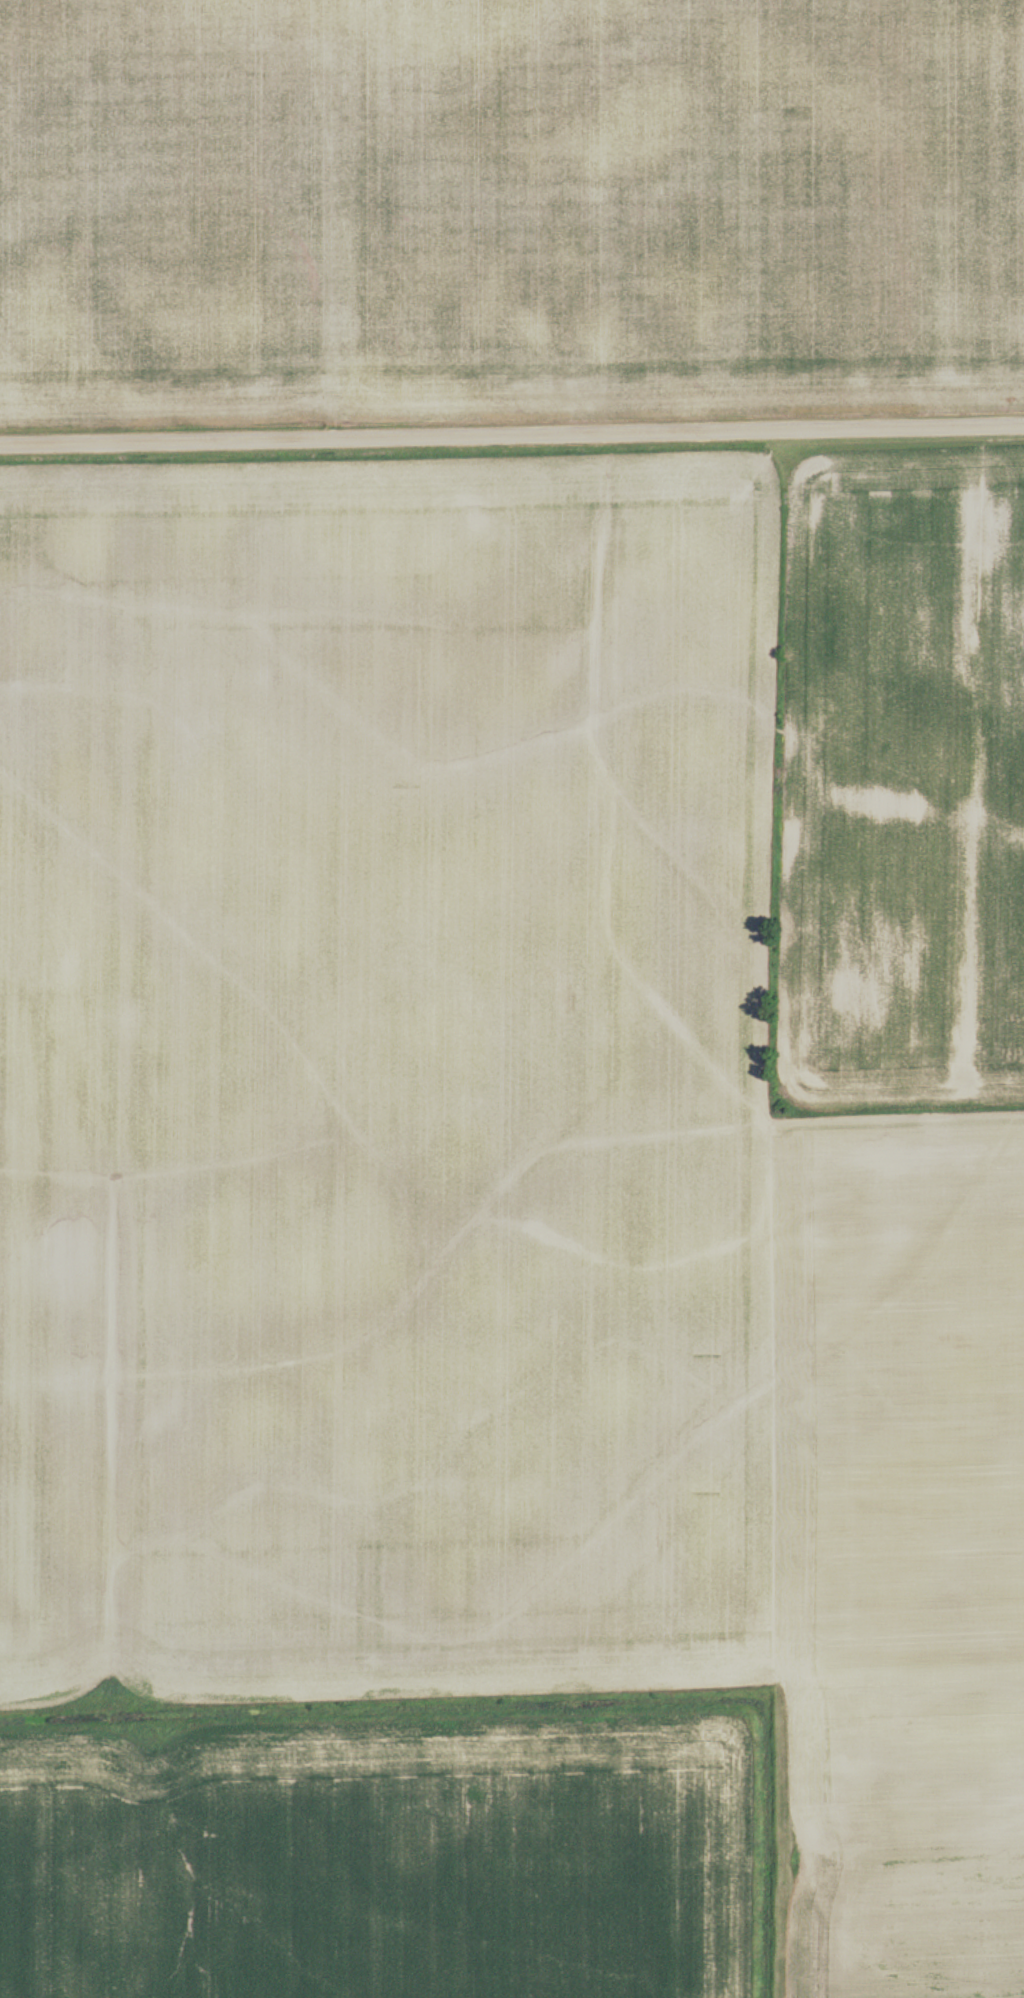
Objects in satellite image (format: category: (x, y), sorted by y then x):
road: (512, 437)

